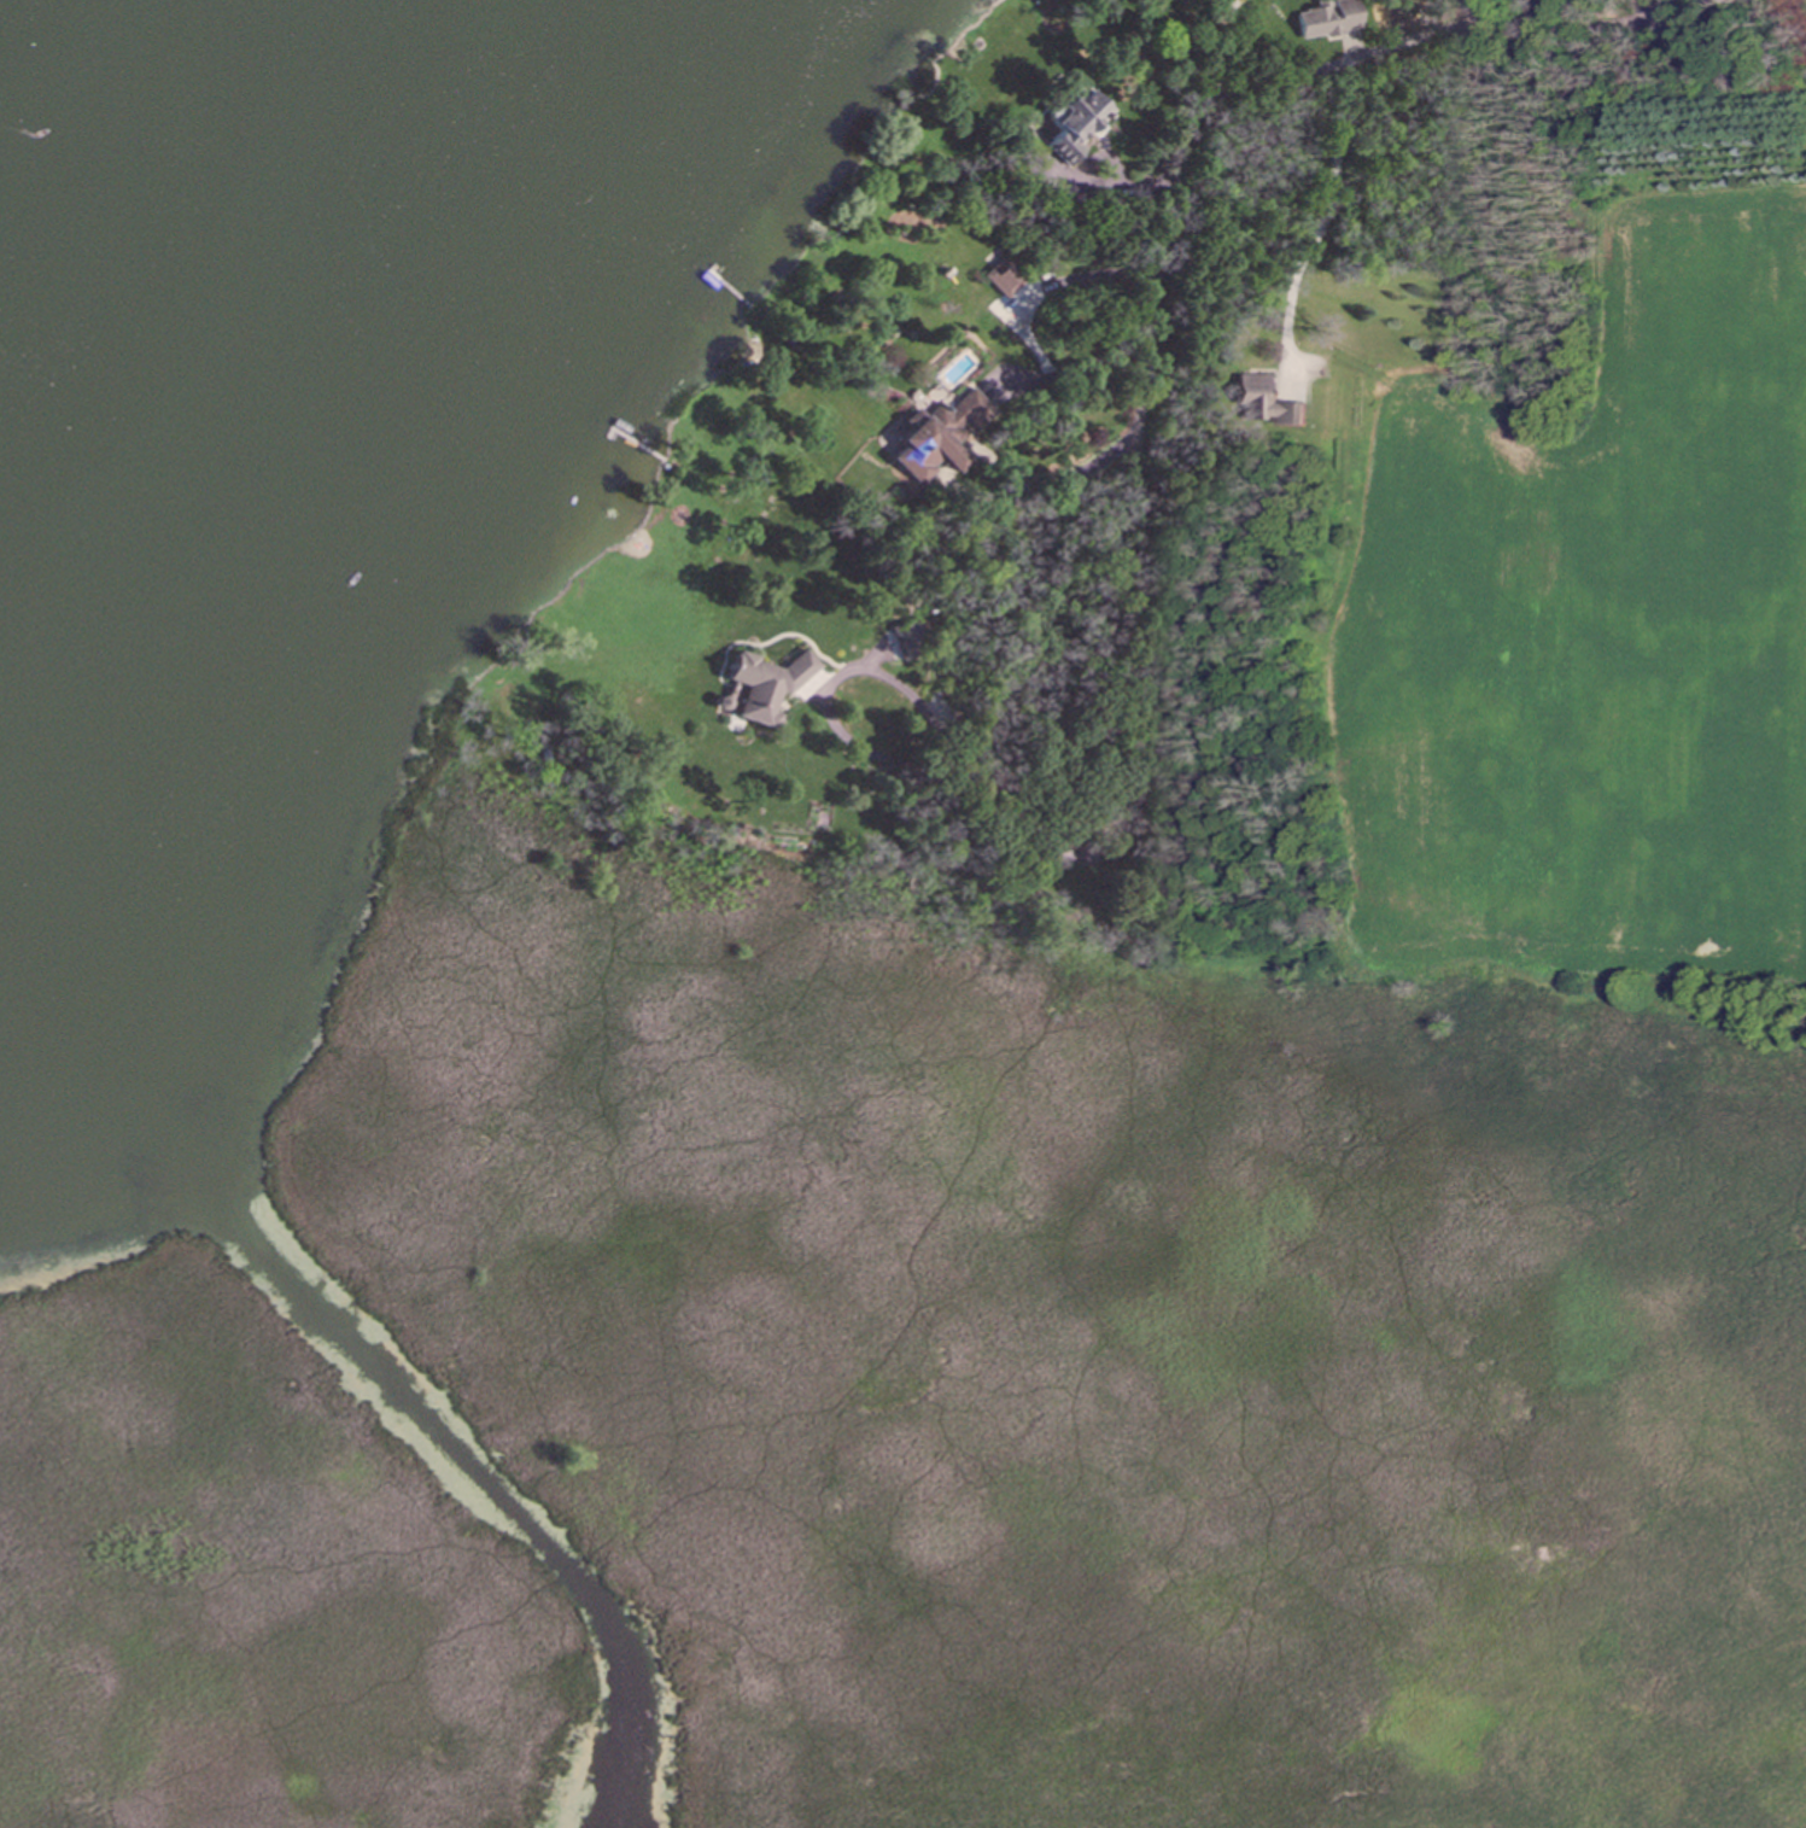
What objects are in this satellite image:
road: (1649, 12)
road: (1672, 14)
building: (1327, 18)
building: (1071, 118)
road: (1092, 182)
road: (1321, 223)
road: (1175, 235)
building: (1004, 278)
road: (1021, 323)
building: (1263, 403)
building: (939, 437)
road: (1047, 483)
building: (906, 635)
crop: (1589, 637)
building: (766, 684)
road: (918, 706)

